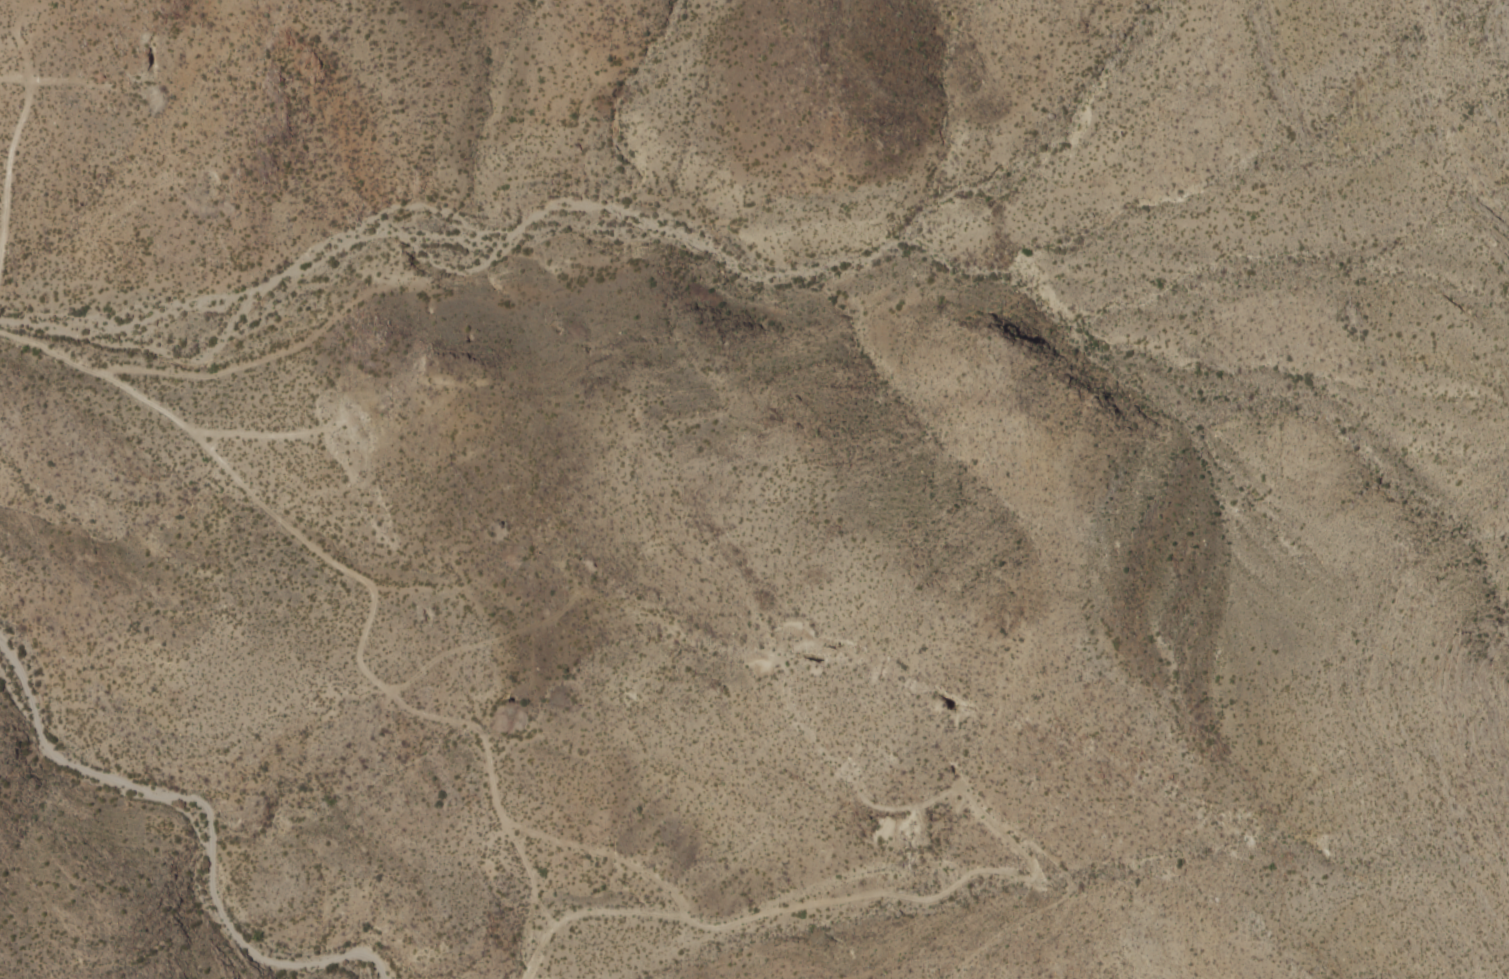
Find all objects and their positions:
road: (207, 816)

